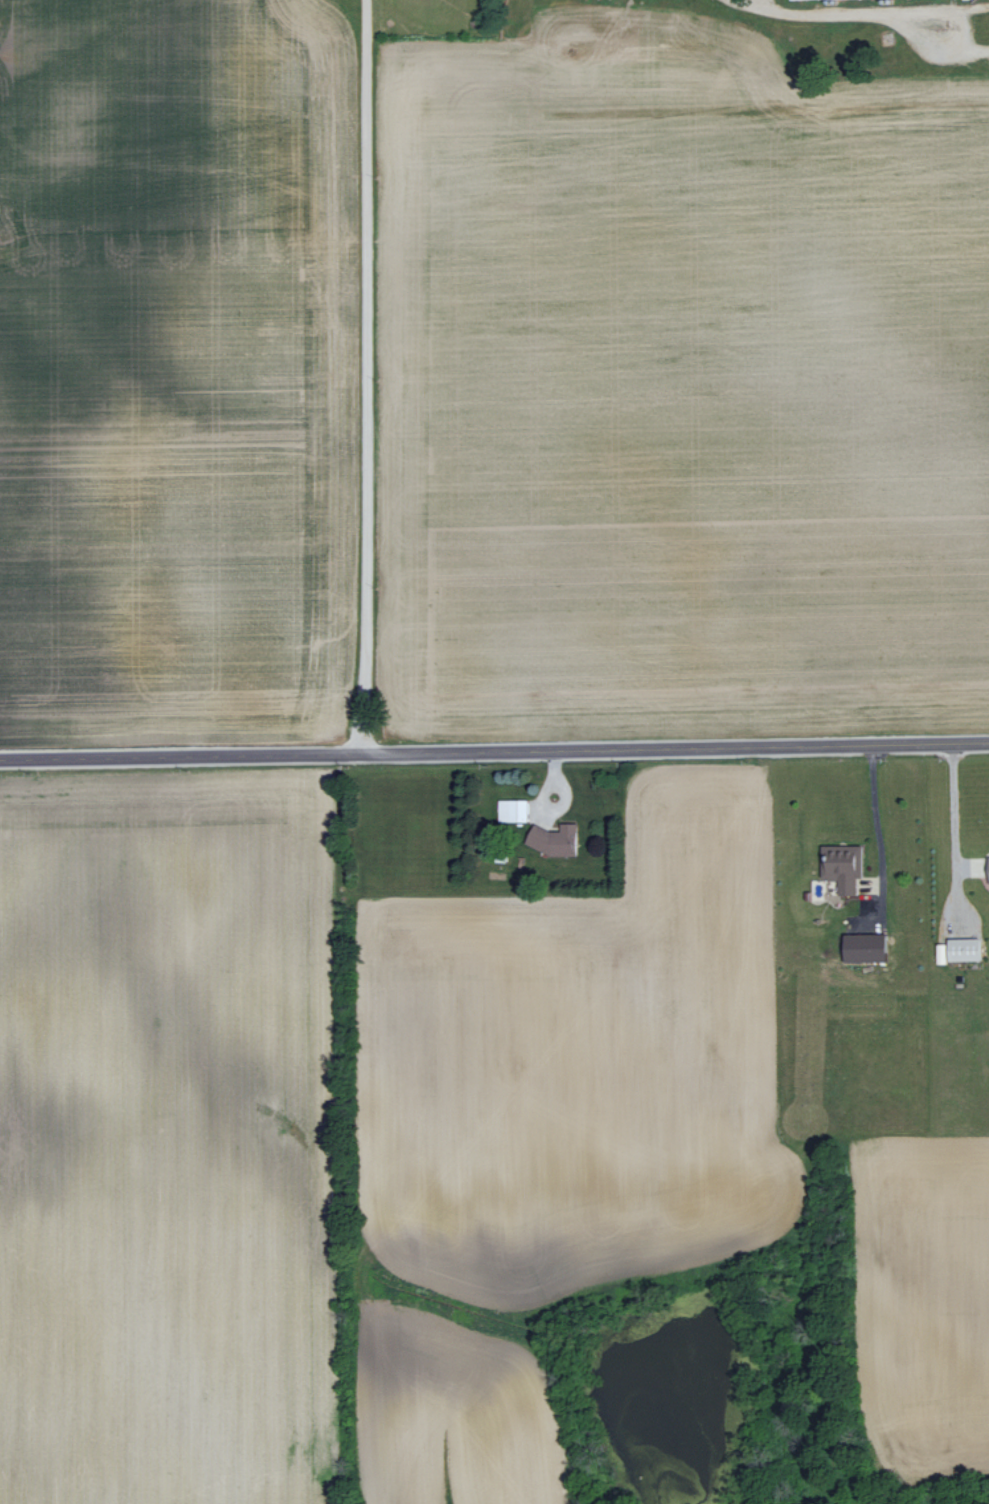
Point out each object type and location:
road: (839, 14)
road: (360, 380)
road: (494, 757)
building: (514, 809)
road: (953, 815)
road: (876, 829)
building: (558, 839)
building: (845, 866)
building: (870, 947)
building: (969, 948)
building: (945, 953)

